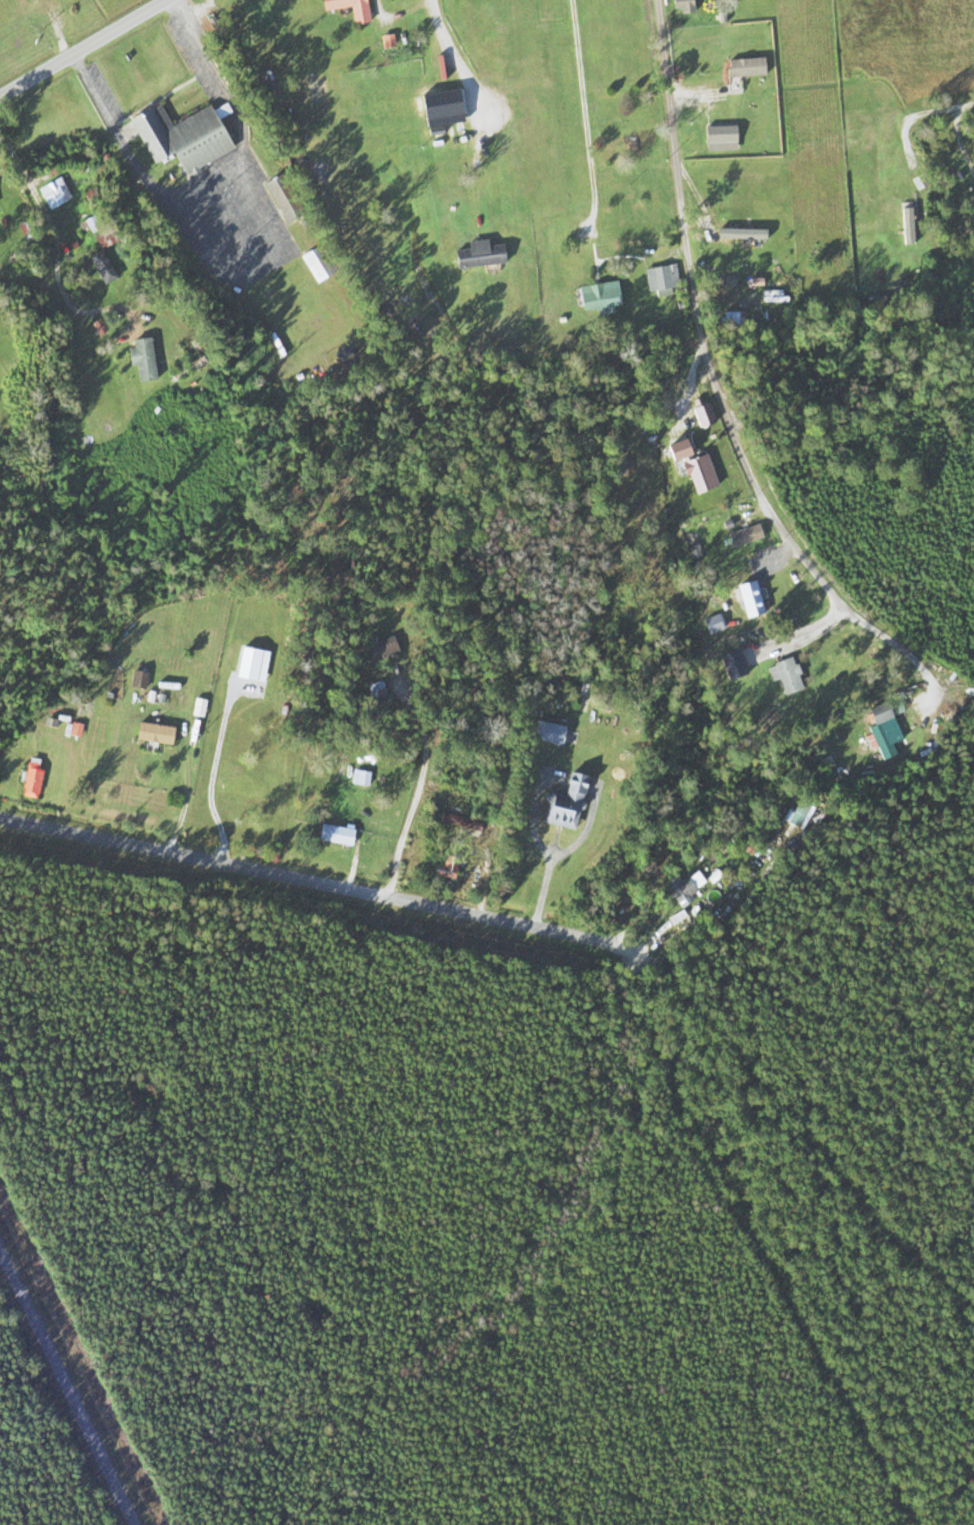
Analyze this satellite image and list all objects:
building: (678, 4)
building: (357, 16)
road: (82, 47)
parking lot: (191, 59)
building: (742, 66)
building: (309, 90)
parking lot: (105, 91)
building: (439, 104)
building: (718, 136)
building: (184, 137)
building: (618, 149)
road: (204, 176)
building: (51, 193)
road: (230, 224)
parking lot: (235, 225)
building: (739, 235)
building: (477, 254)
building: (312, 263)
building: (99, 266)
road: (259, 270)
building: (657, 276)
building: (596, 296)
building: (139, 358)
road: (714, 383)
building: (701, 414)
building: (688, 464)
building: (743, 535)
building: (747, 598)
building: (377, 646)
building: (730, 663)
building: (783, 674)
building: (136, 678)
building: (374, 689)
building: (197, 707)
building: (546, 731)
building: (150, 732)
building: (881, 738)
building: (29, 777)
building: (359, 777)
building: (562, 802)
building: (458, 823)
building: (333, 833)
building: (443, 865)
road: (307, 880)
building: (680, 886)
road: (66, 1390)

